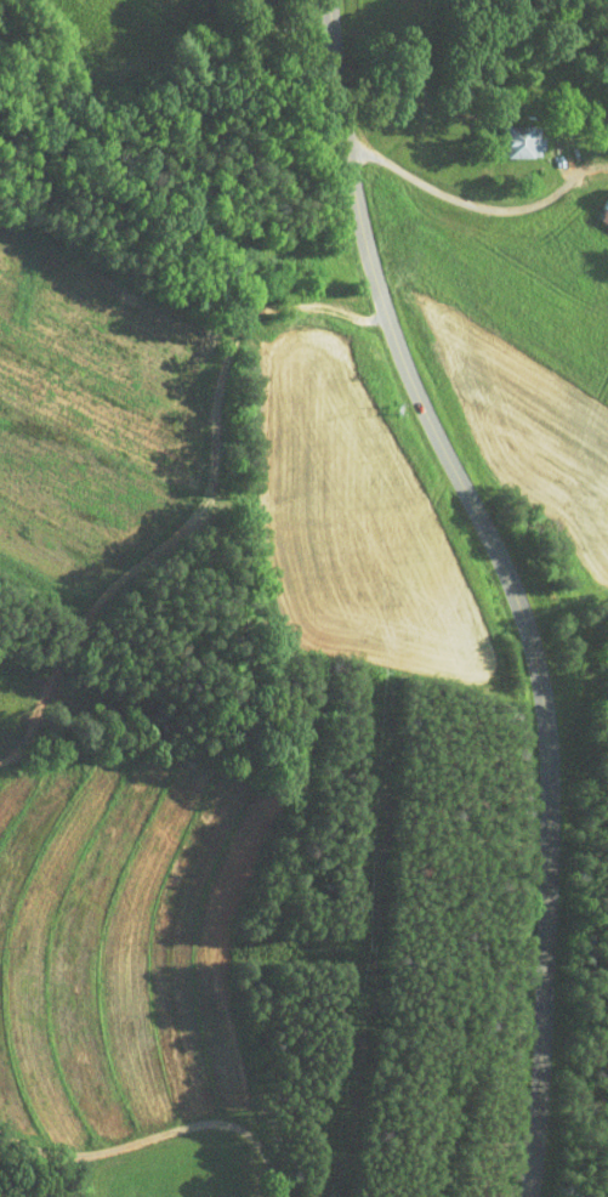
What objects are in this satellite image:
building: (501, 134)
building: (595, 194)
road: (462, 200)
road: (511, 584)
road: (158, 1136)

